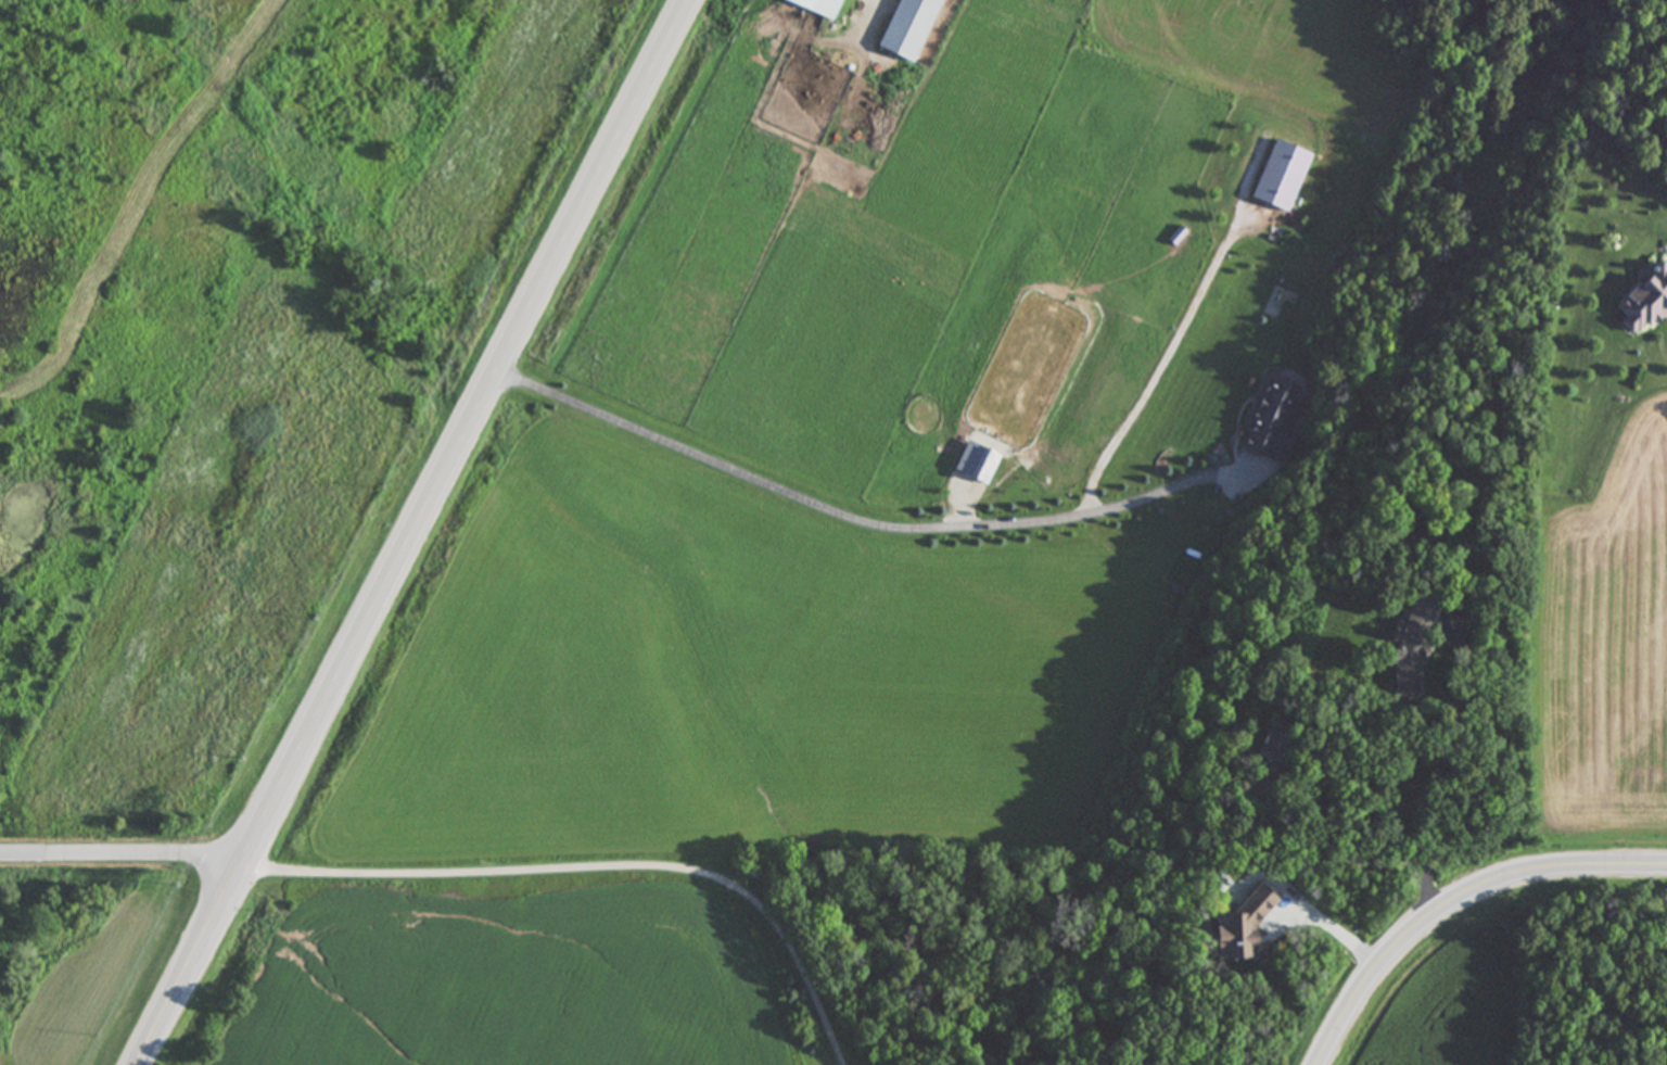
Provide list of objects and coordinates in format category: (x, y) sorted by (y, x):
building: (908, 28)
building: (1280, 176)
building: (1642, 301)
building: (1273, 421)
road: (855, 519)
road: (417, 532)
building: (1409, 648)
road: (1502, 731)
building: (1264, 748)
road: (122, 865)
road: (589, 875)
road: (1458, 897)
road: (1334, 924)

